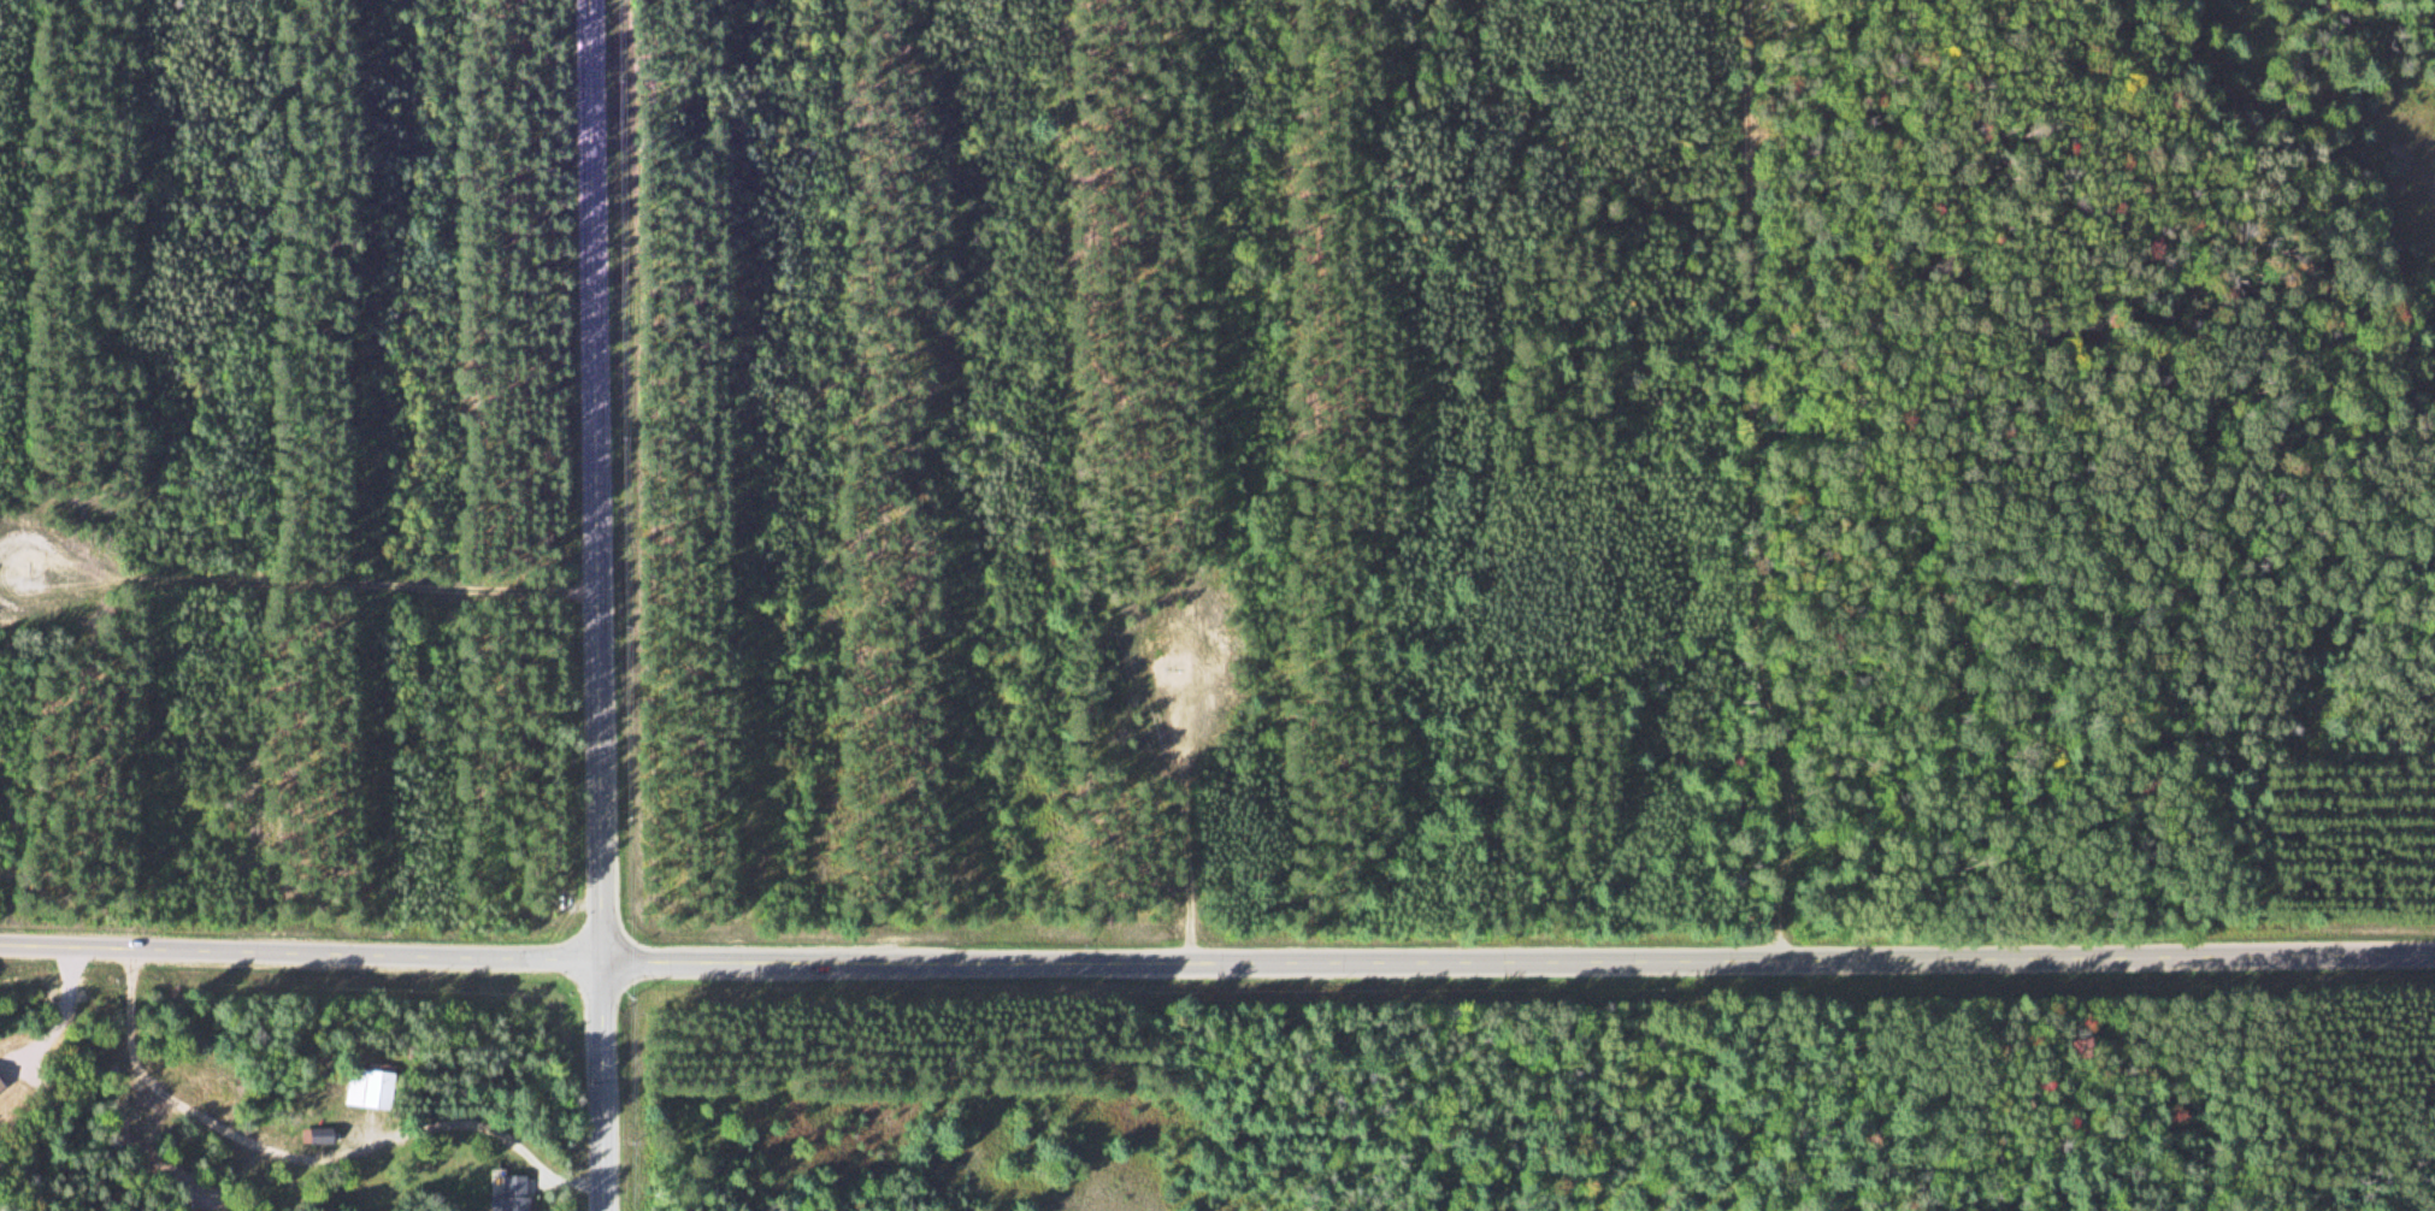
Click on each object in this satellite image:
road: (1747, 486)
petroleum well: (28, 566)
road: (259, 581)
road: (597, 605)
road: (1184, 820)
road: (1216, 965)
road: (2431, 965)
building: (367, 1088)
building: (512, 1194)

